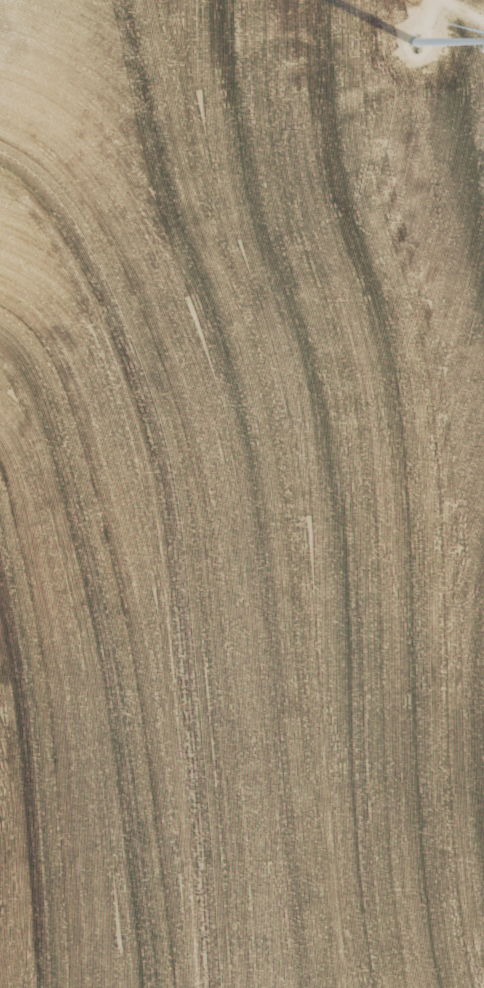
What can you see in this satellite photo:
road: (461, 13)
wind turbine: (416, 59)

